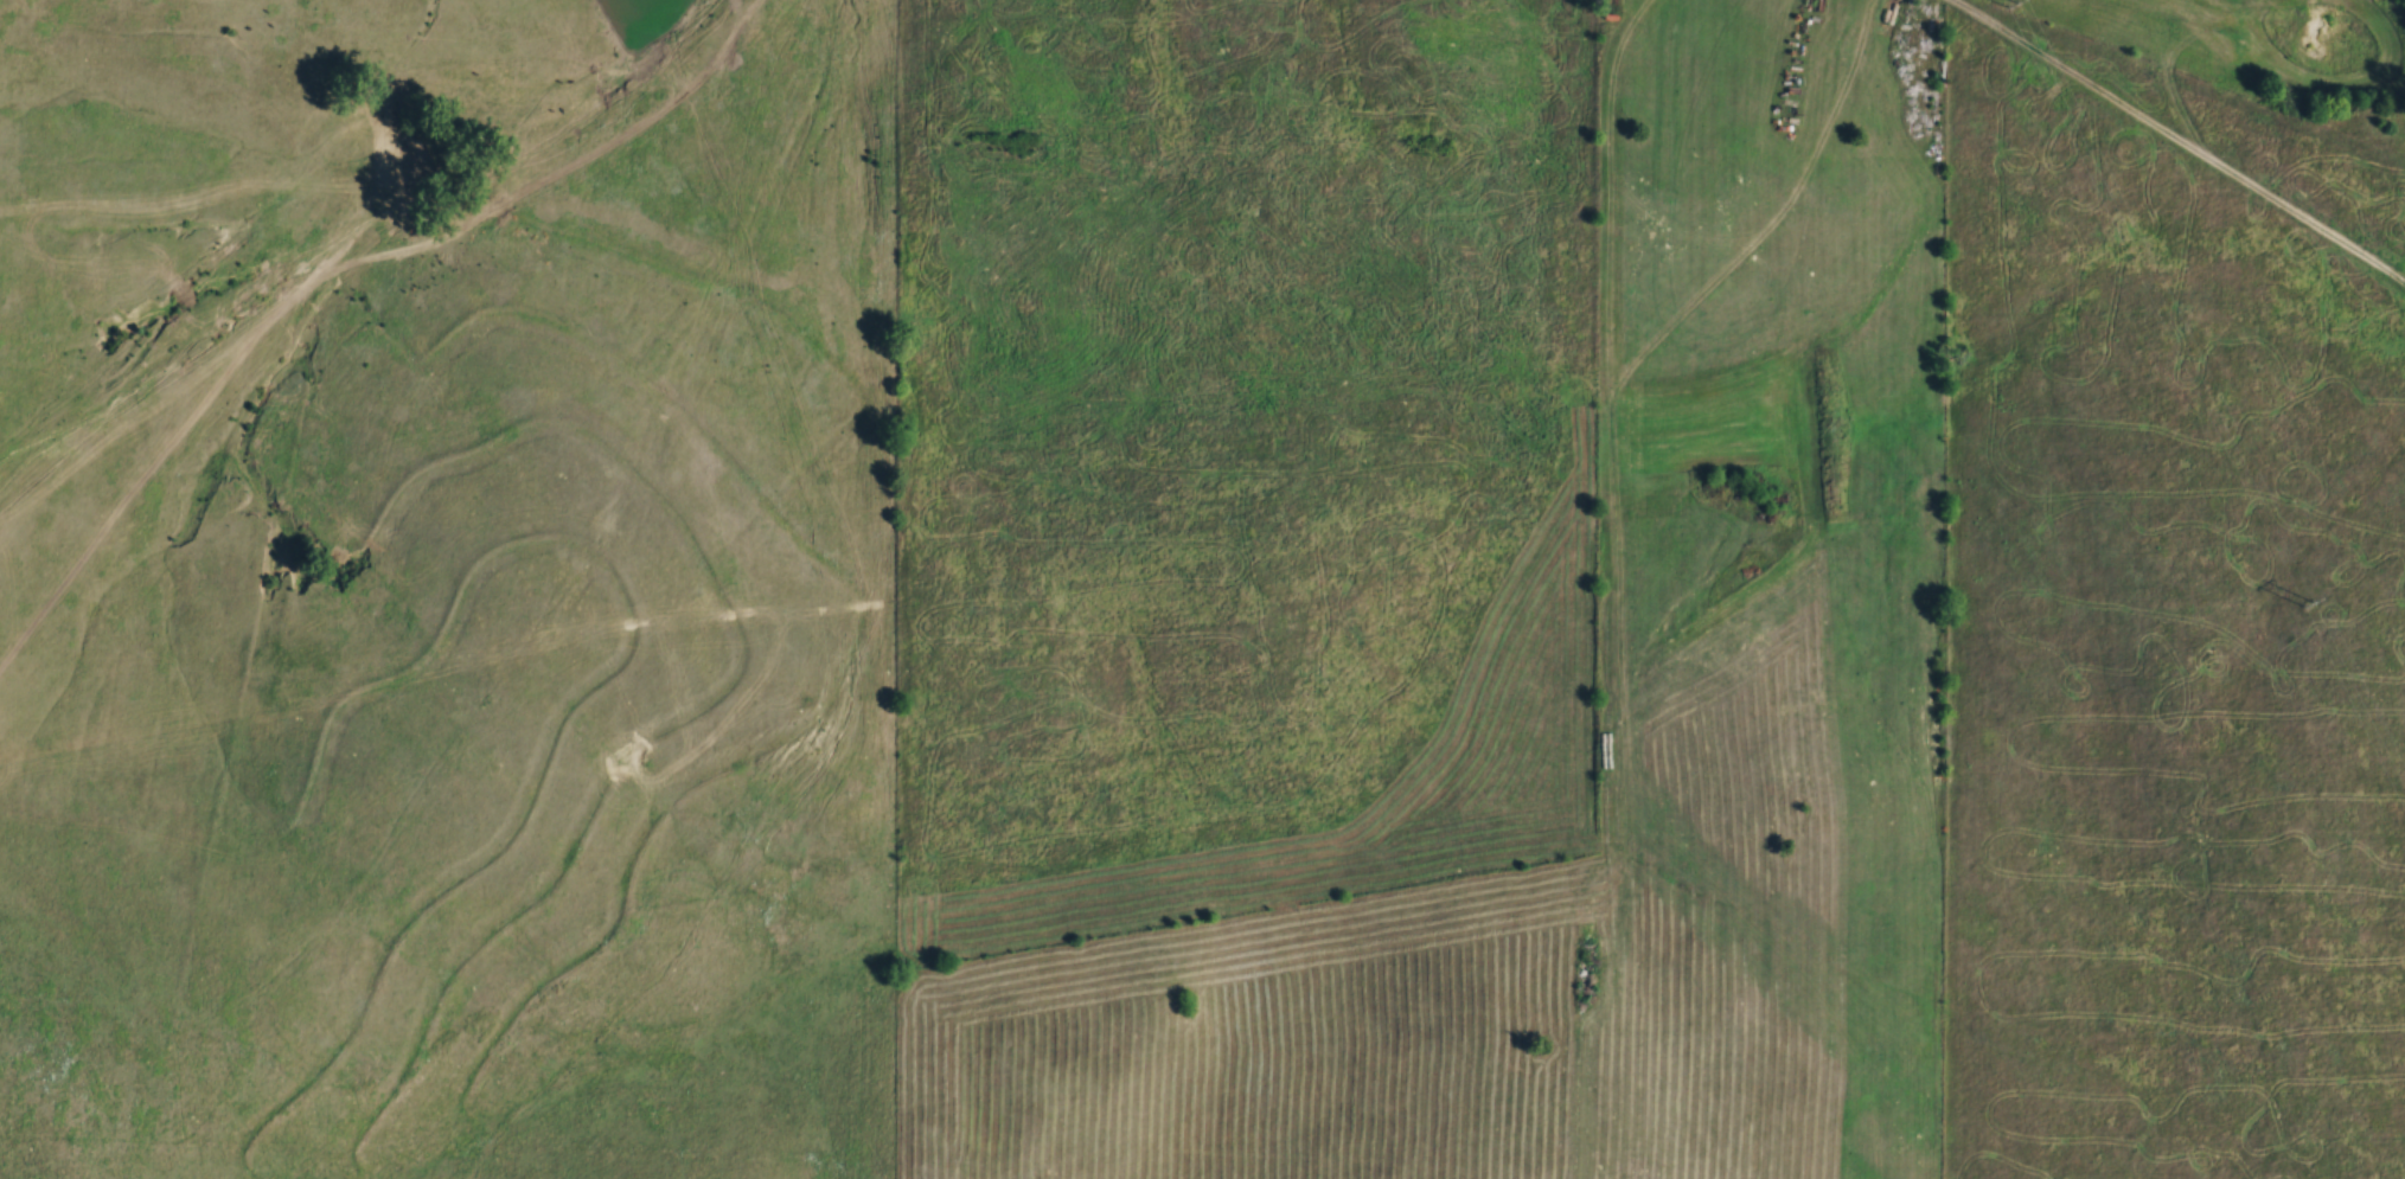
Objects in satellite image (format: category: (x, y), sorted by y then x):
power tower: (2014, 4)
power tower: (2310, 603)

